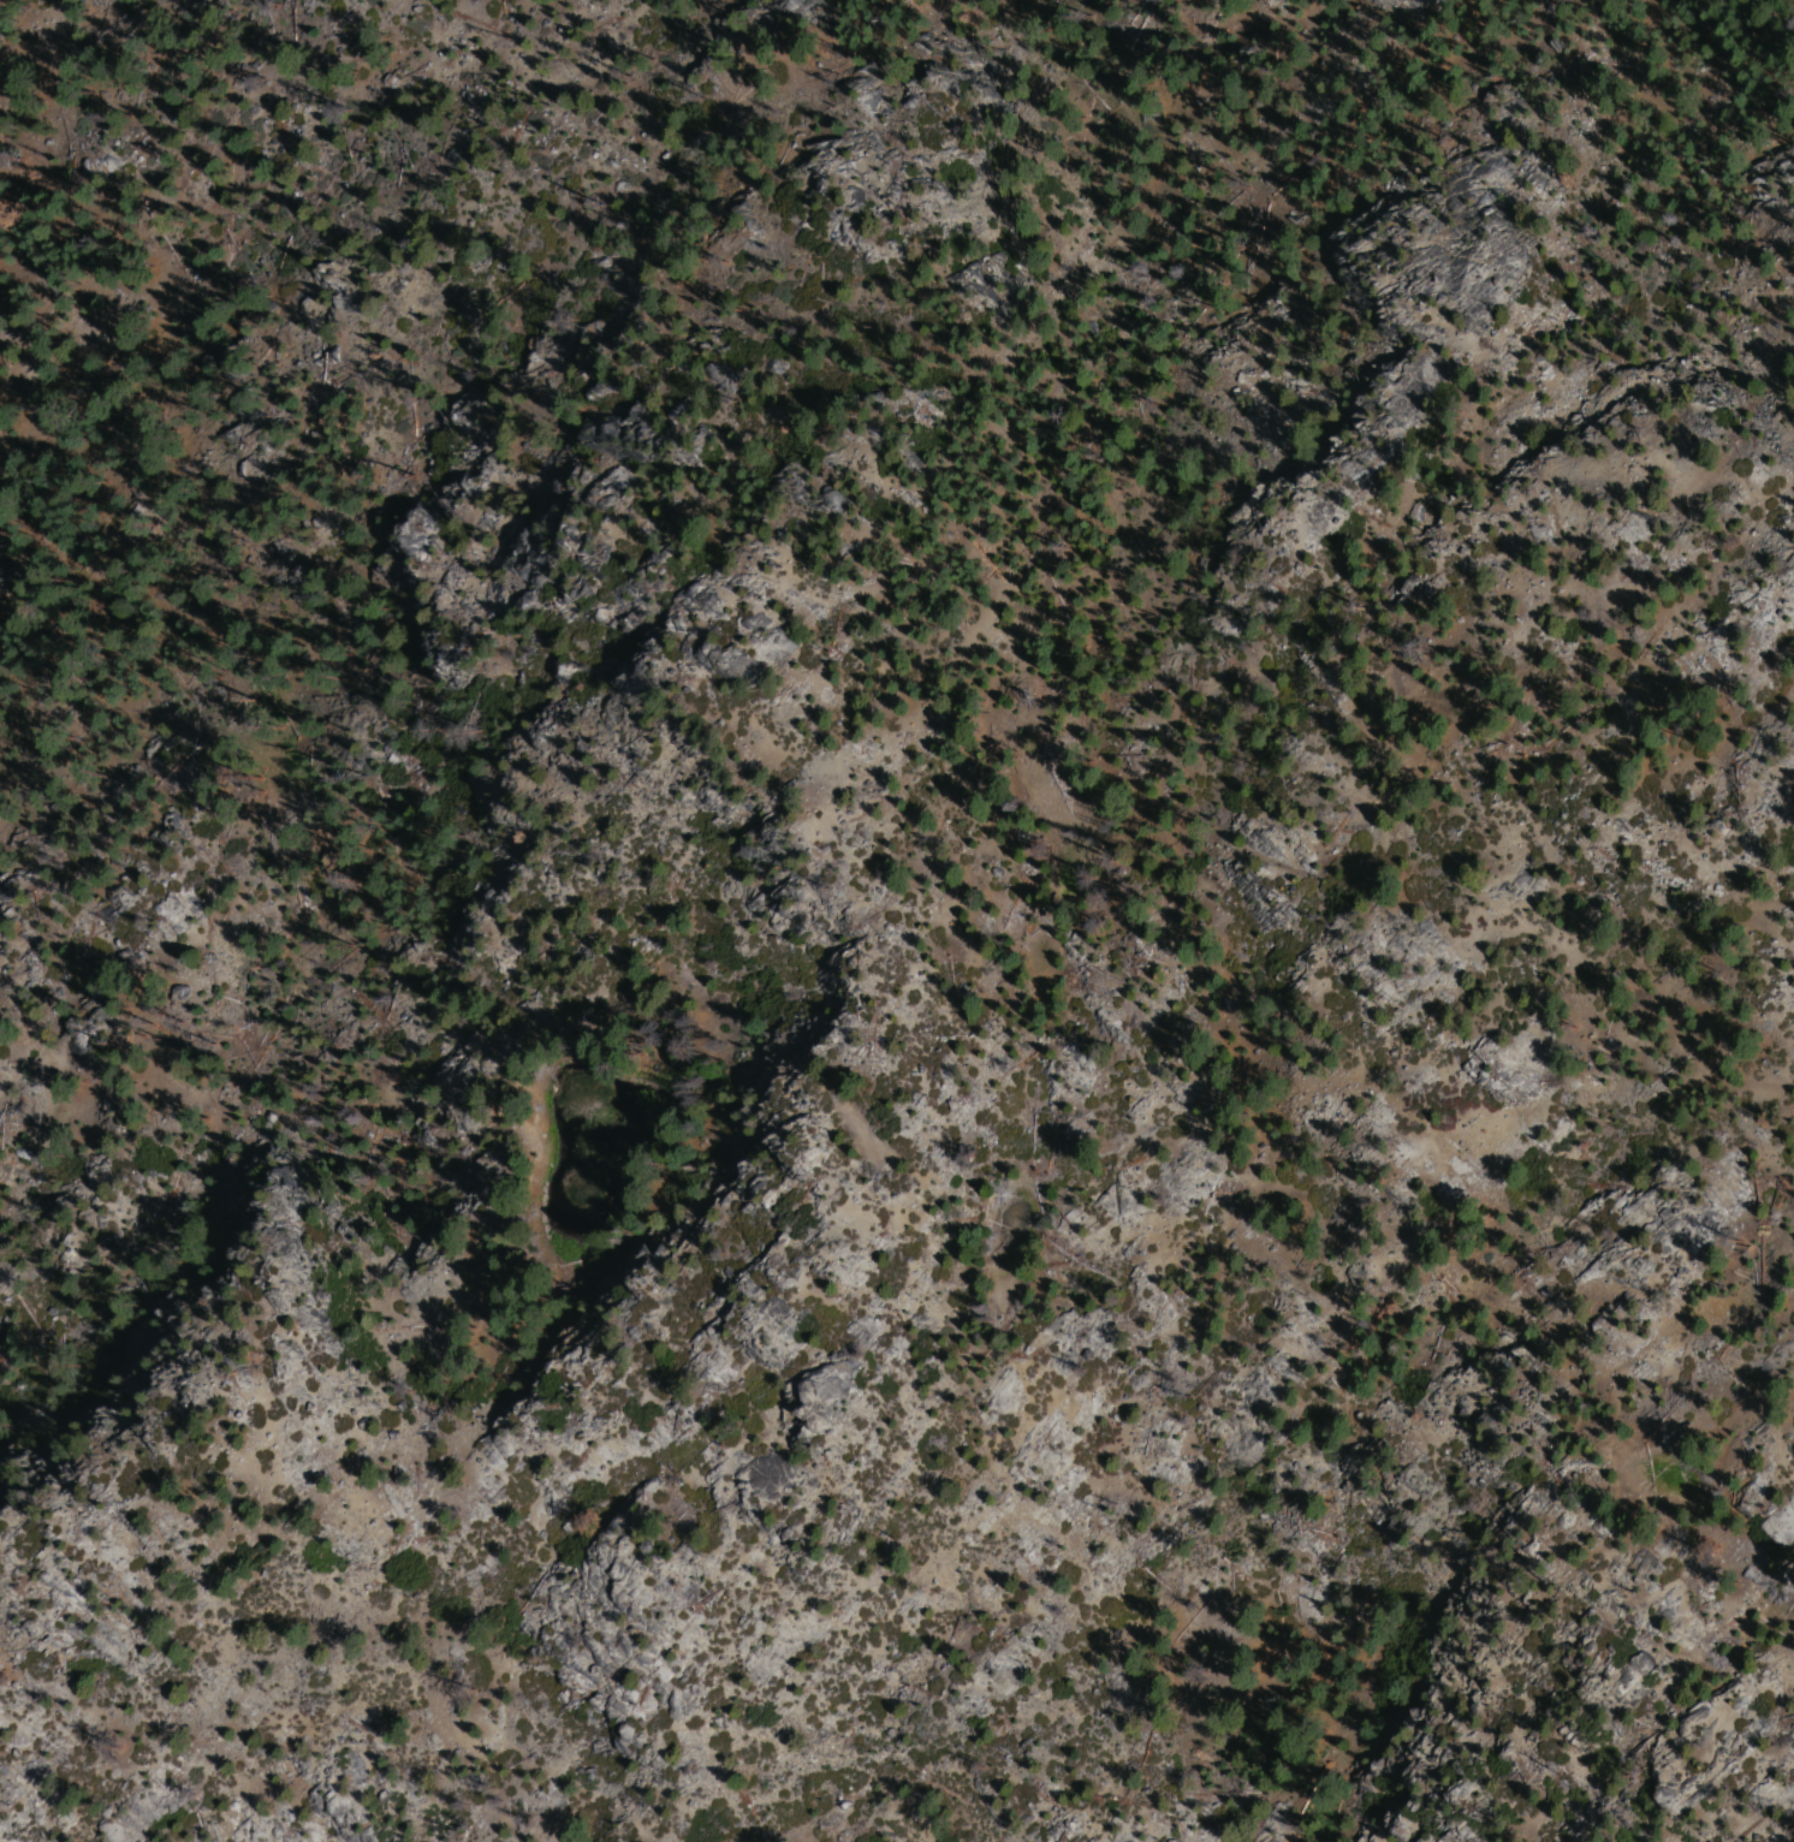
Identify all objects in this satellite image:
road: (149, 139)

